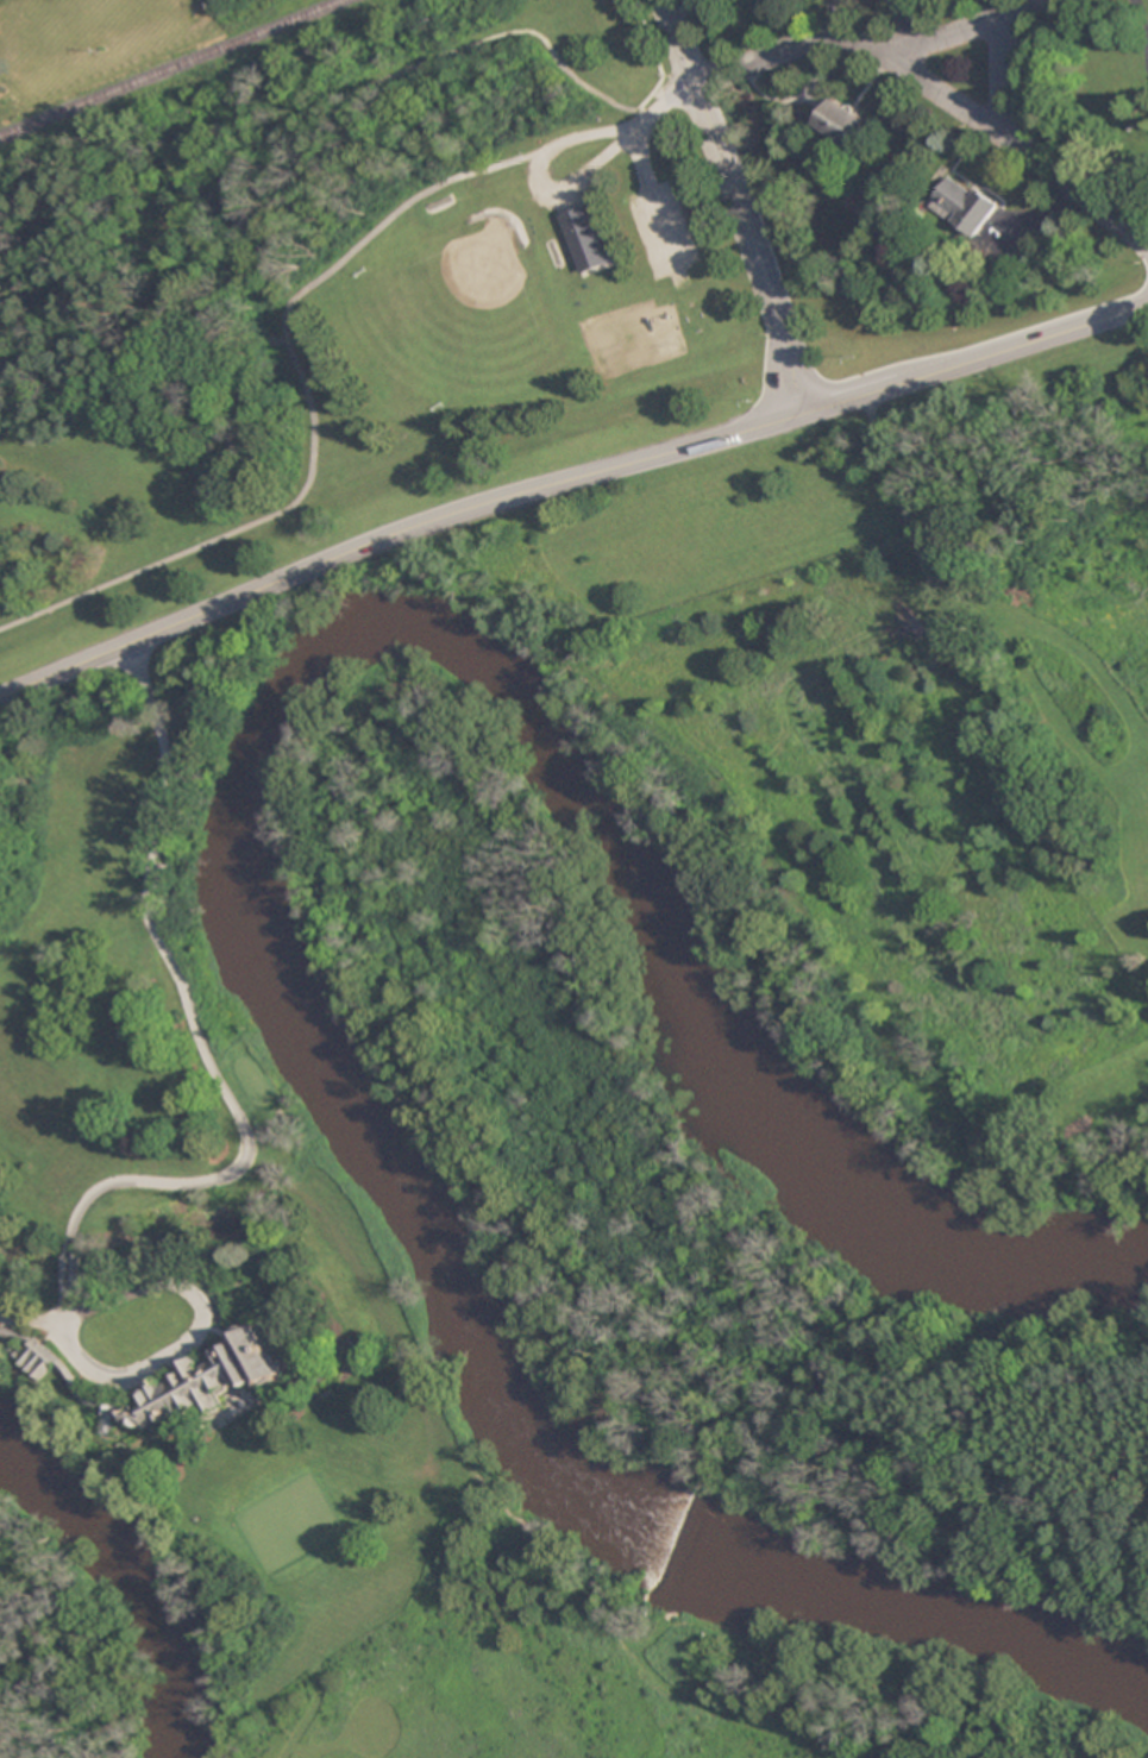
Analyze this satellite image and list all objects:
road: (1142, 21)
road: (960, 32)
road: (1002, 76)
road: (935, 92)
road: (705, 112)
building: (843, 124)
road: (551, 143)
road: (652, 195)
building: (965, 206)
building: (584, 237)
park: (351, 303)
road: (777, 318)
road: (851, 320)
road: (1069, 331)
road: (899, 384)
road: (395, 530)
road: (227, 533)
river: (252, 849)
road: (215, 1076)
building: (206, 1380)
river: (126, 1581)

